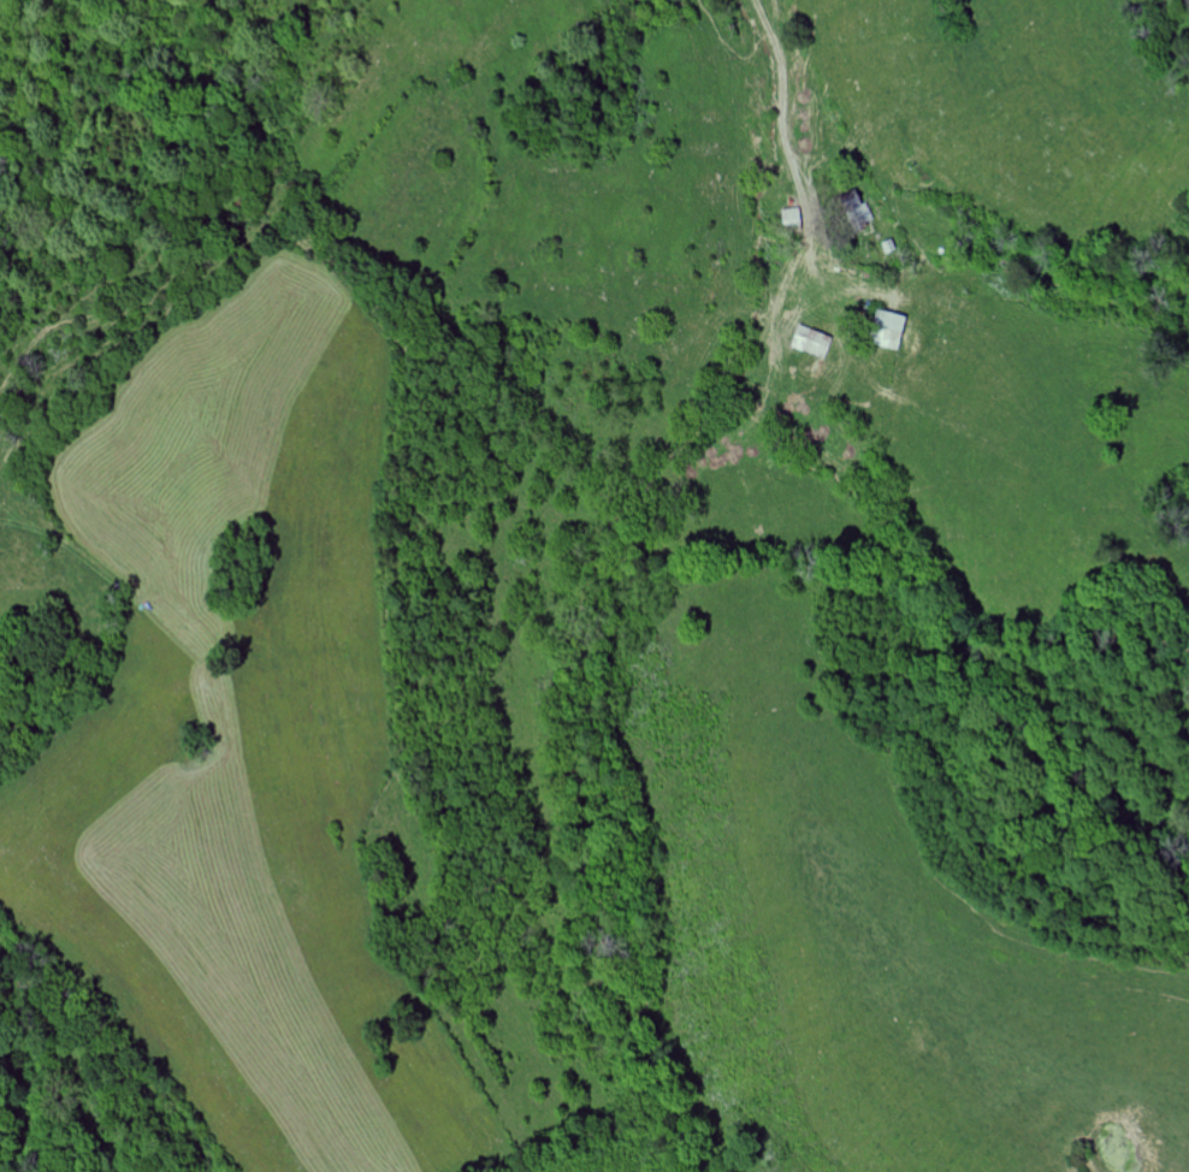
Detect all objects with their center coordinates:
road: (775, 64)
building: (815, 343)

